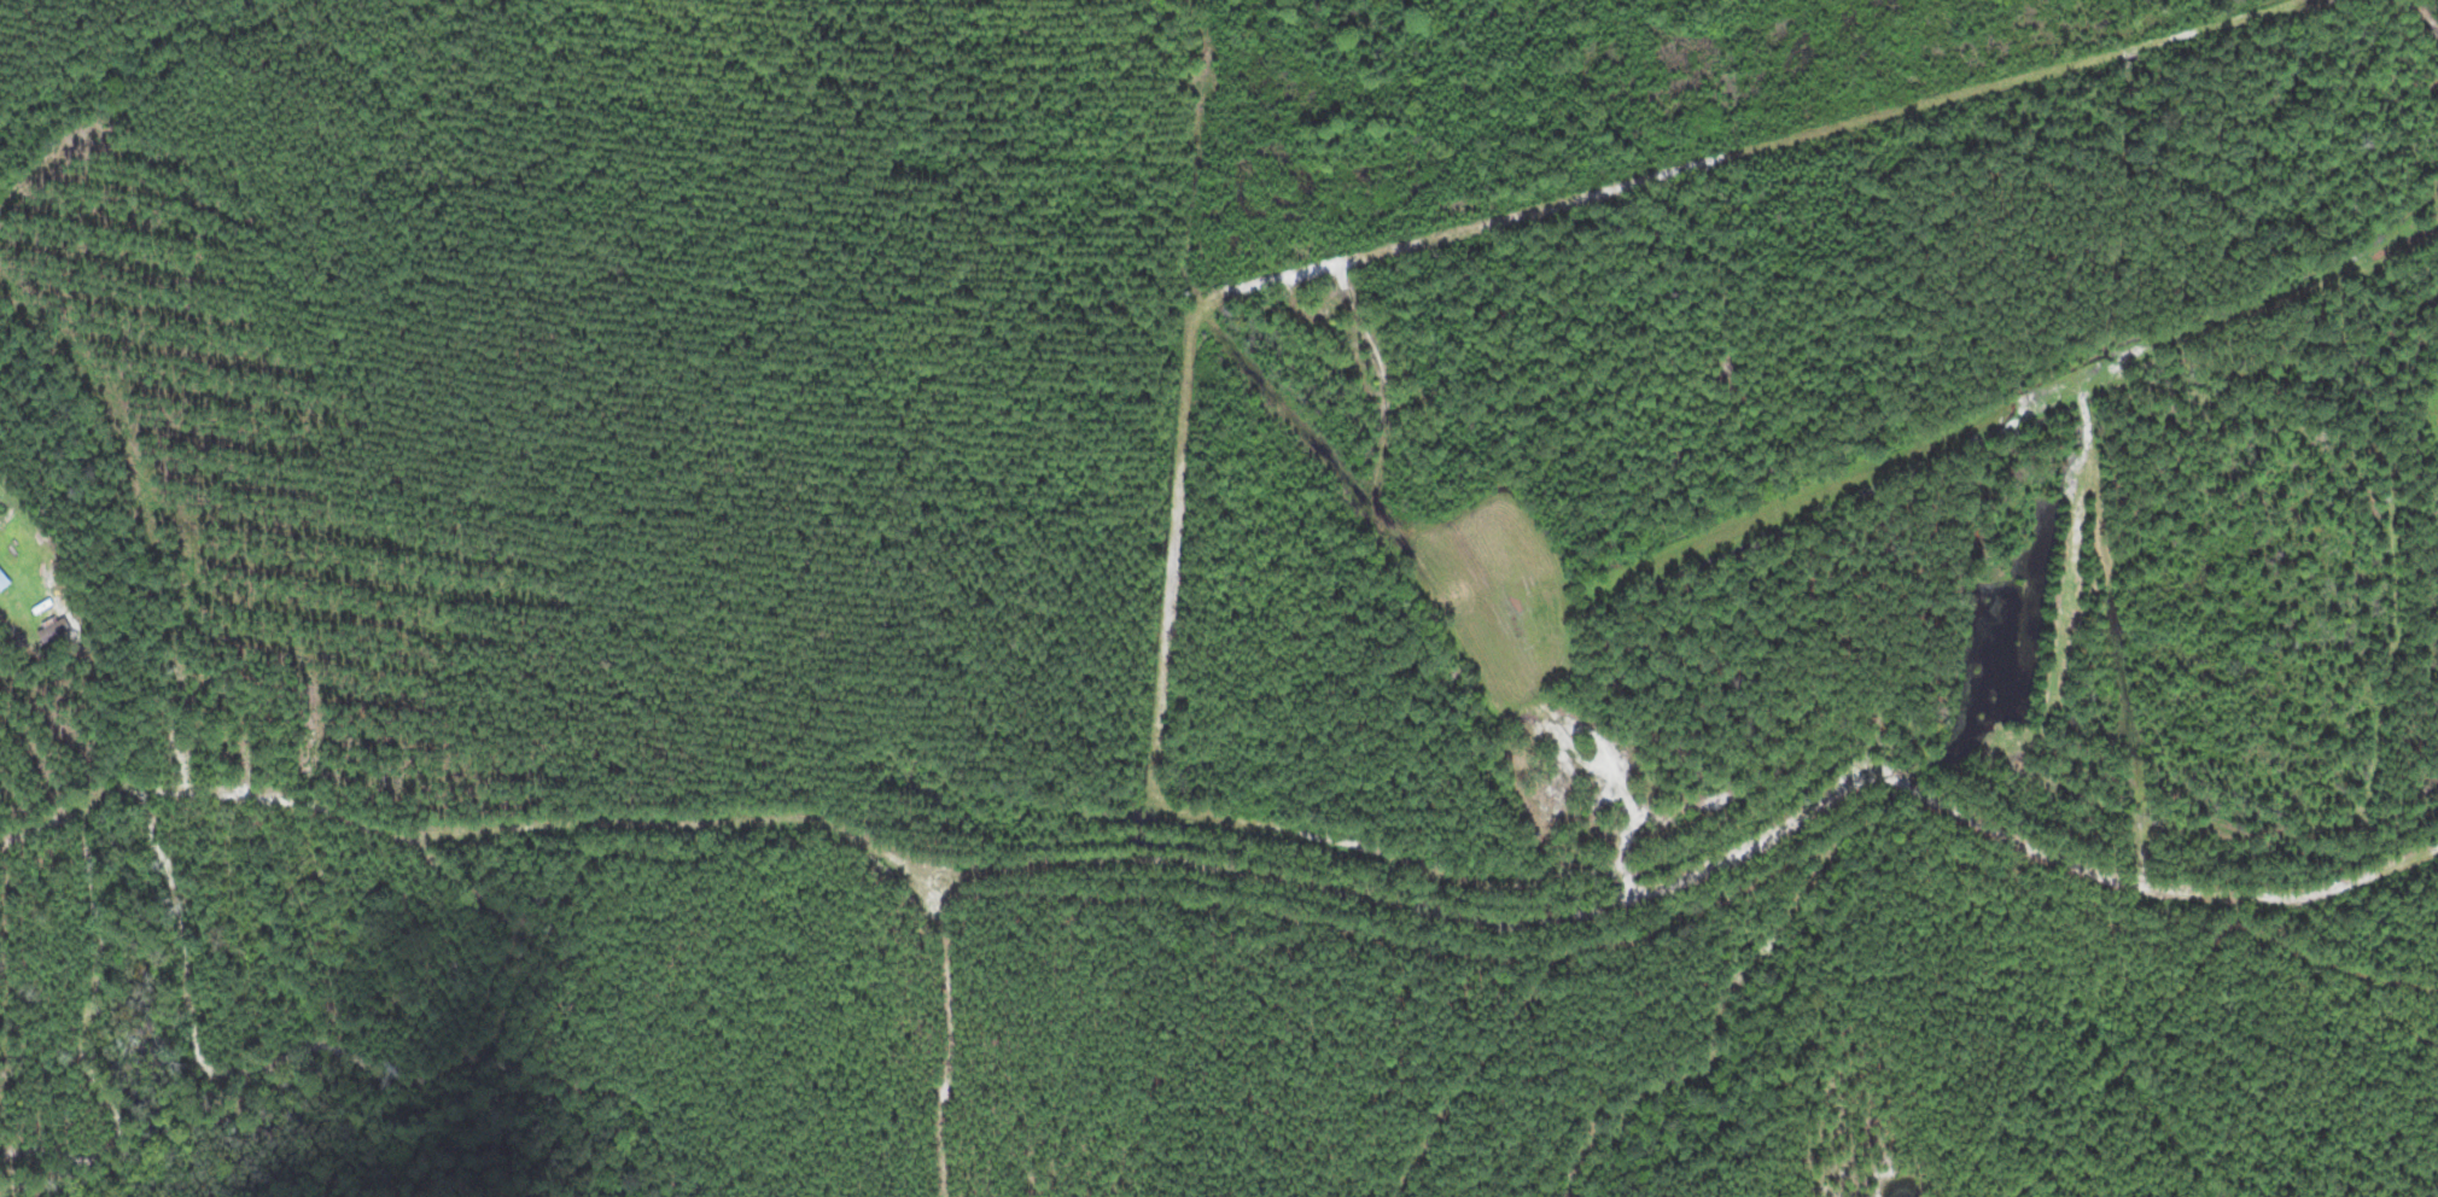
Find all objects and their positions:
building: (52, 632)

